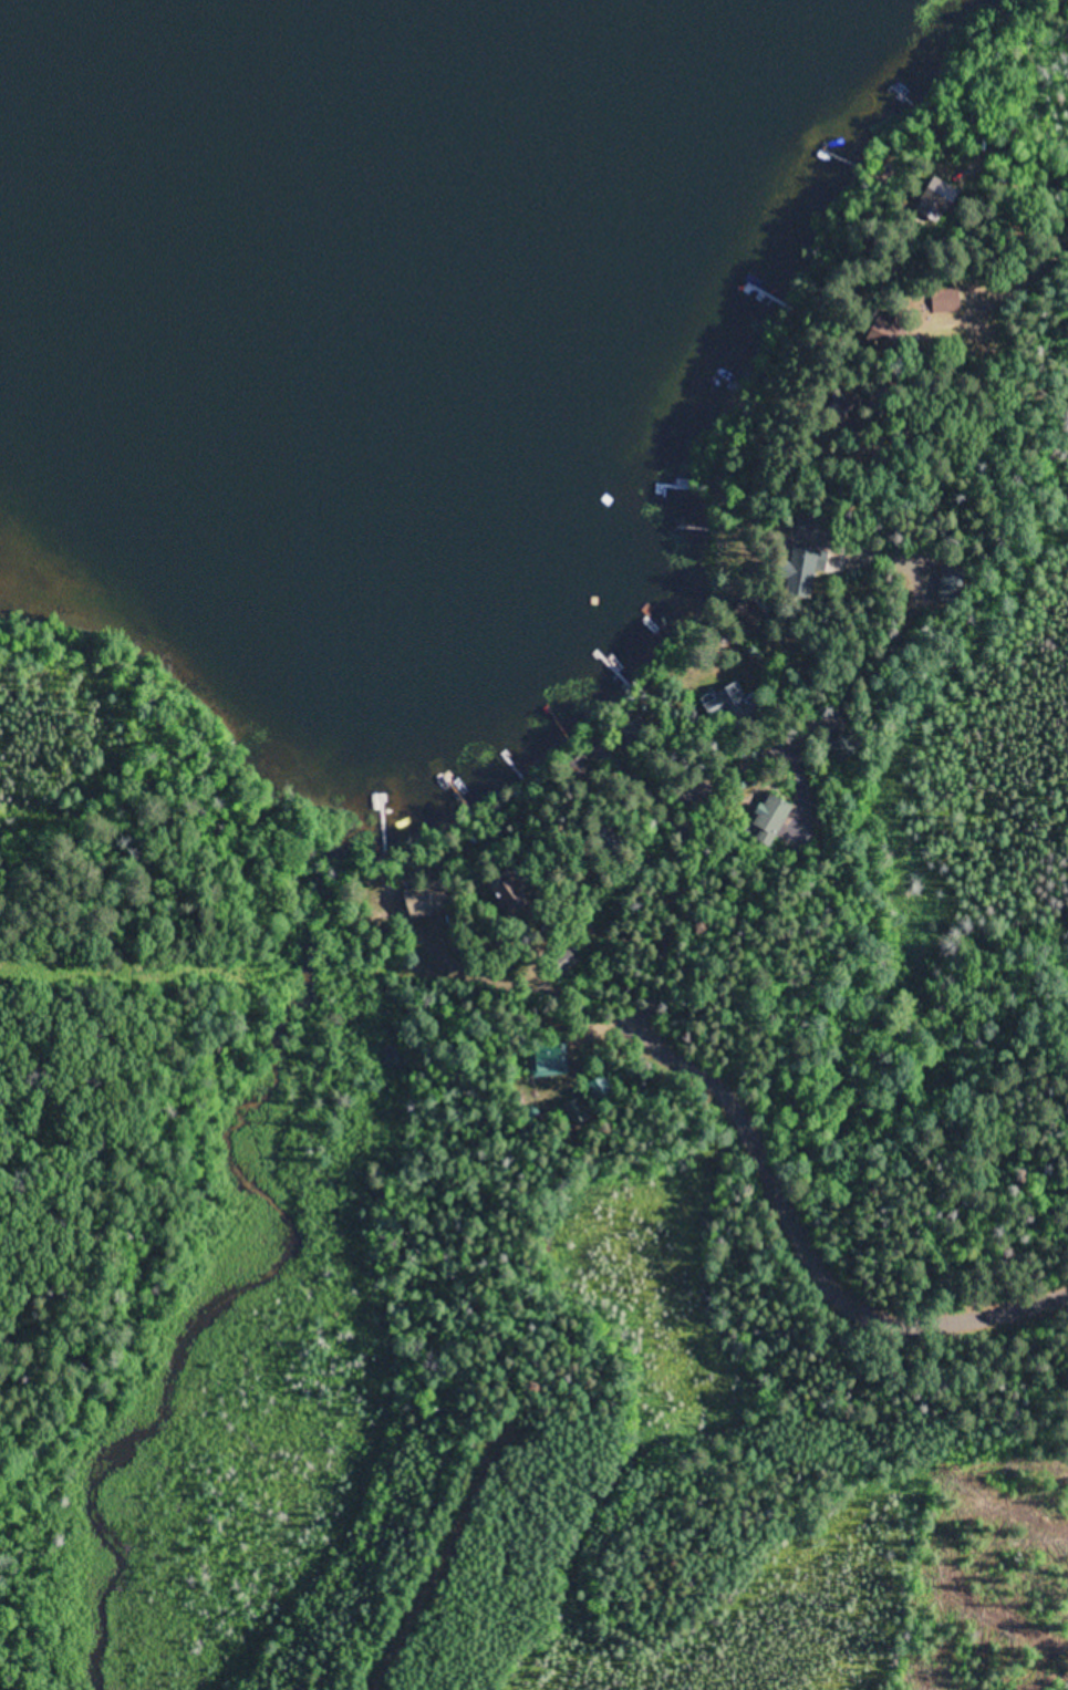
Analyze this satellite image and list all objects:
building: (714, 709)
road: (701, 773)
building: (761, 818)
building: (502, 890)
building: (426, 896)
building: (559, 957)
building: (545, 1056)
building: (598, 1084)
building: (574, 1106)
road: (787, 1203)
road: (440, 1564)

